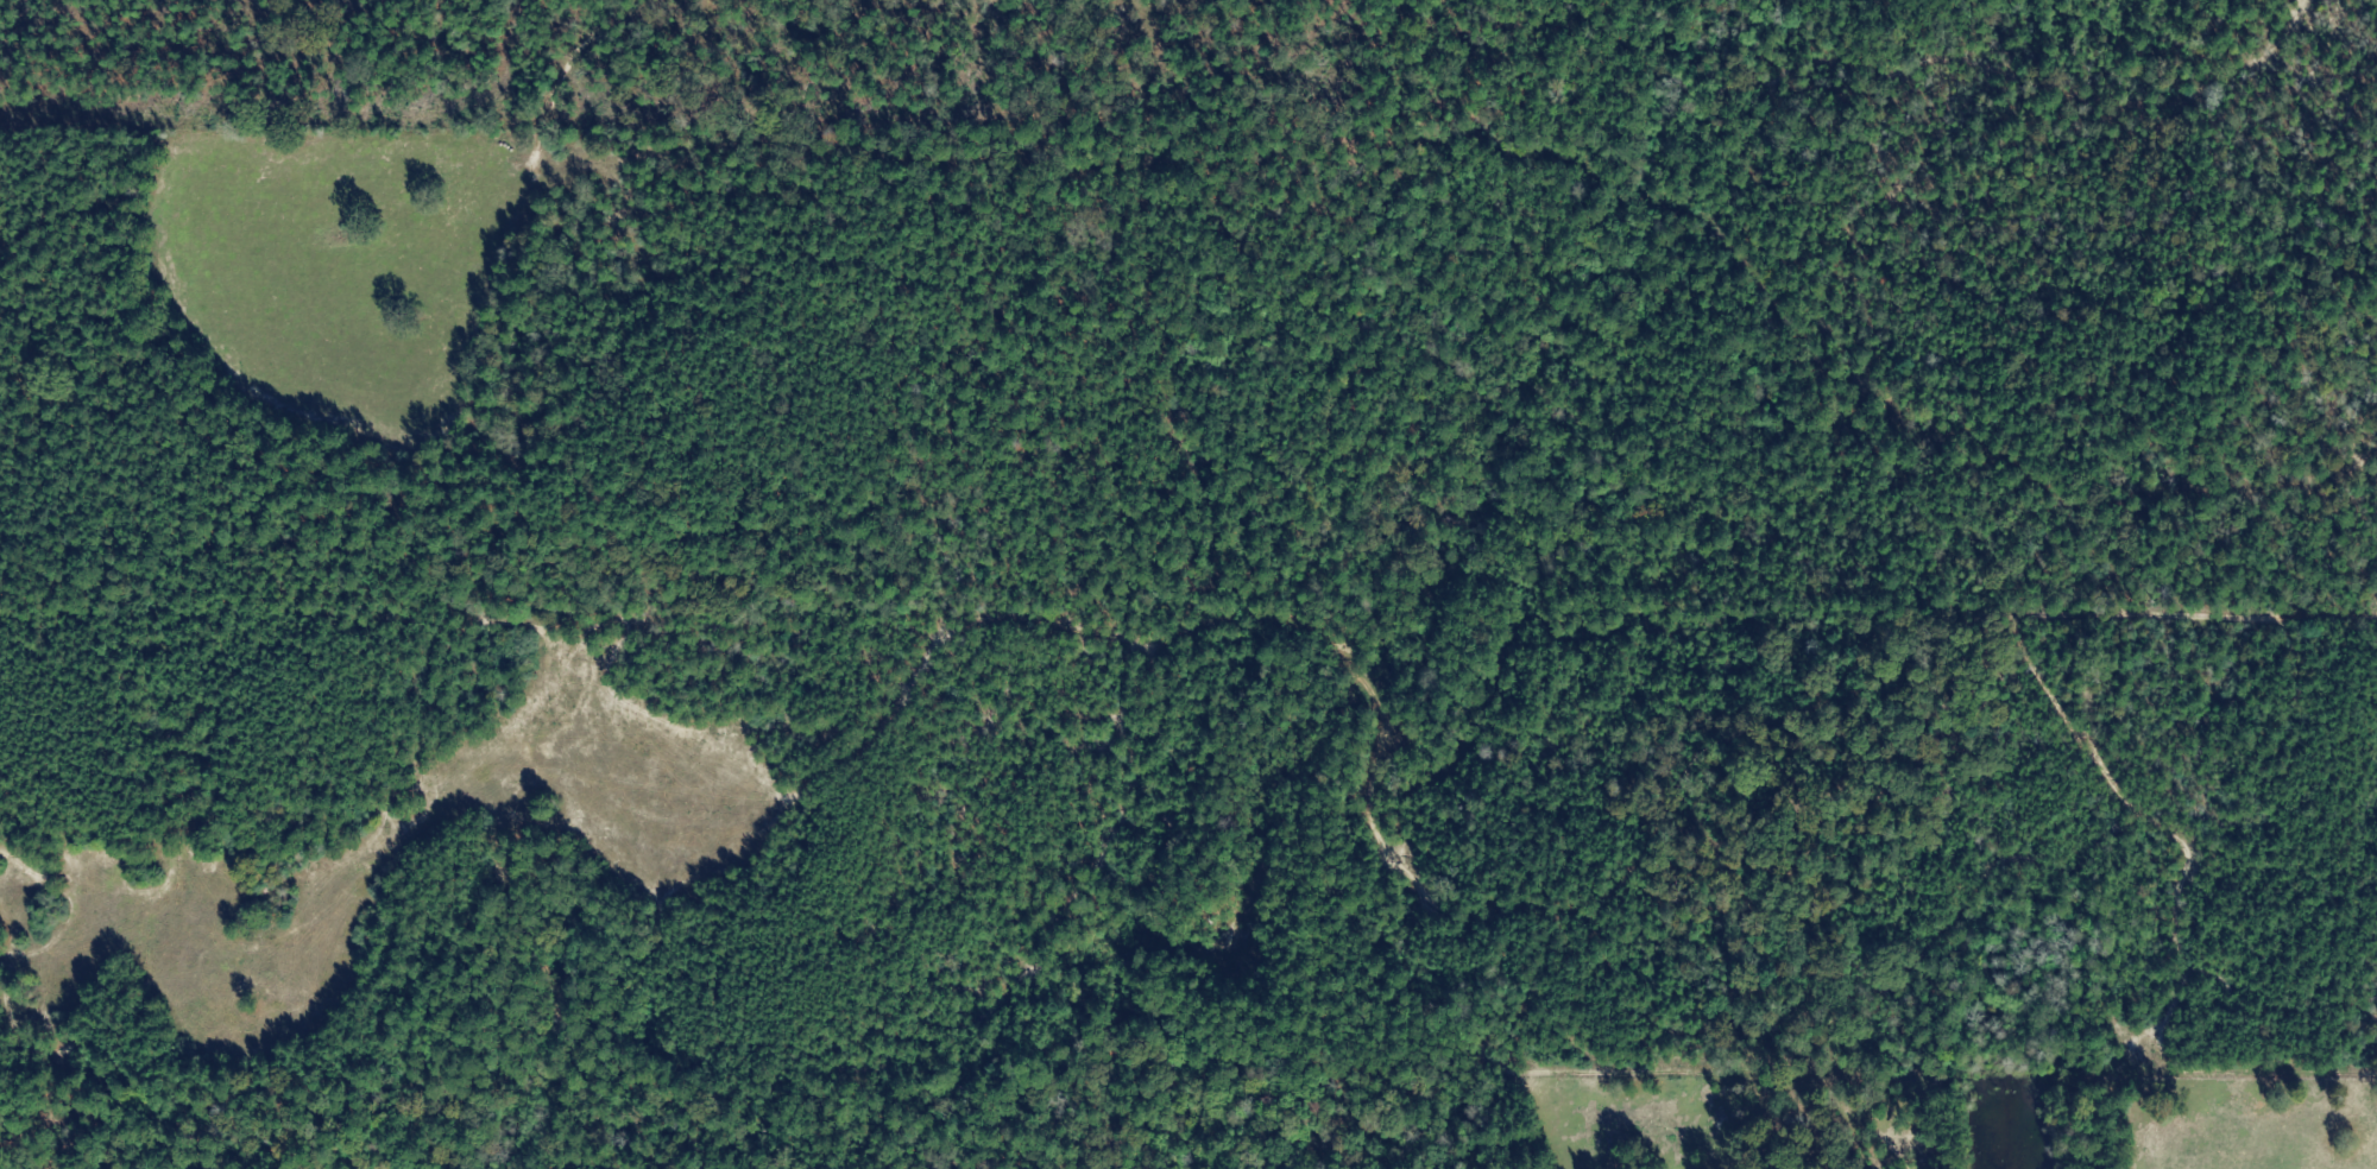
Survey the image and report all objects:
road: (576, 52)
road: (1551, 756)
road: (27, 1031)

